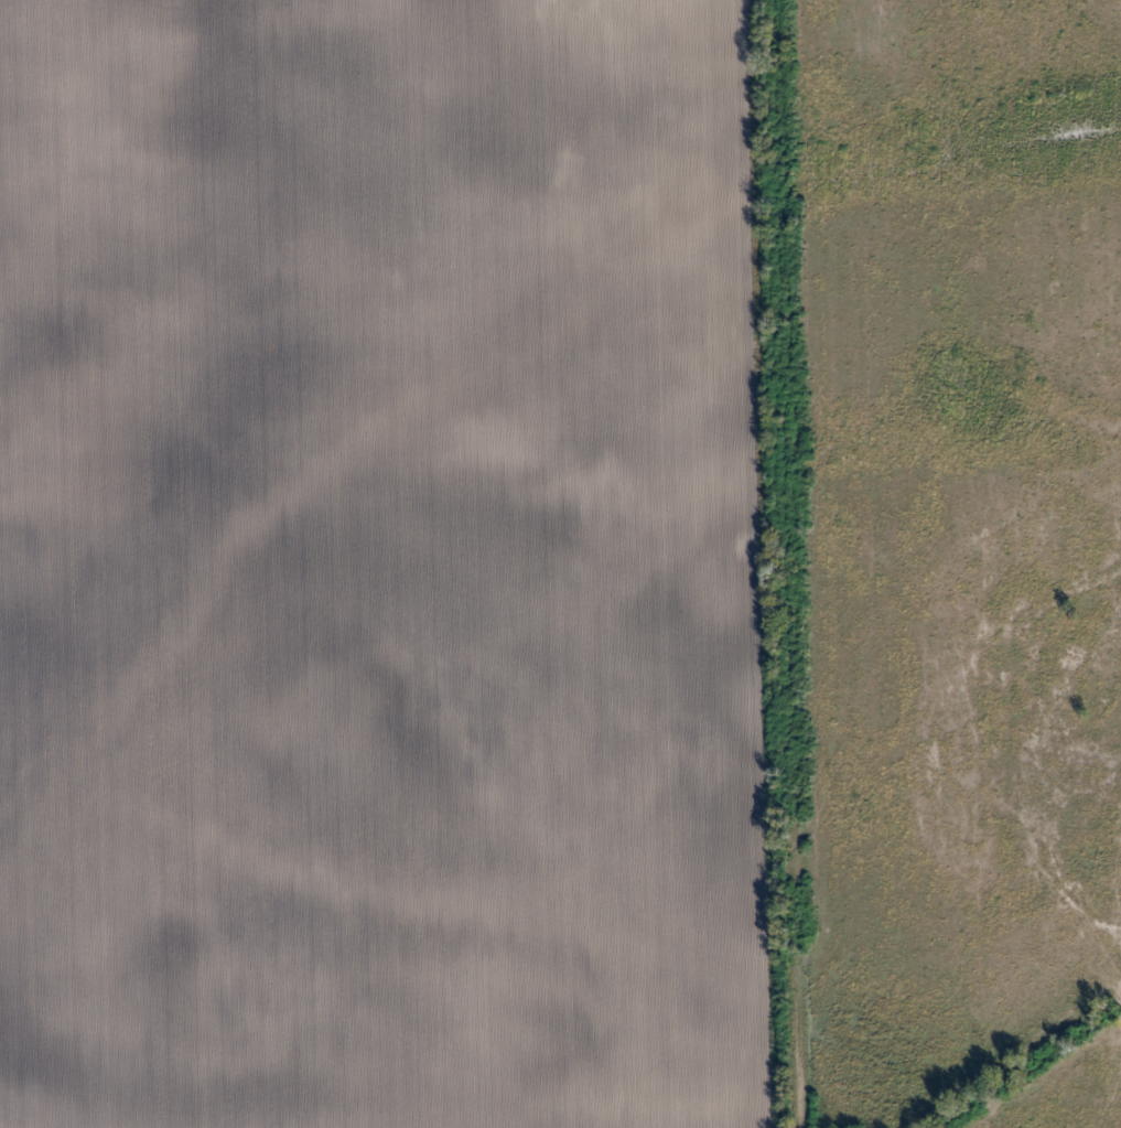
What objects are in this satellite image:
road: (767, 563)

